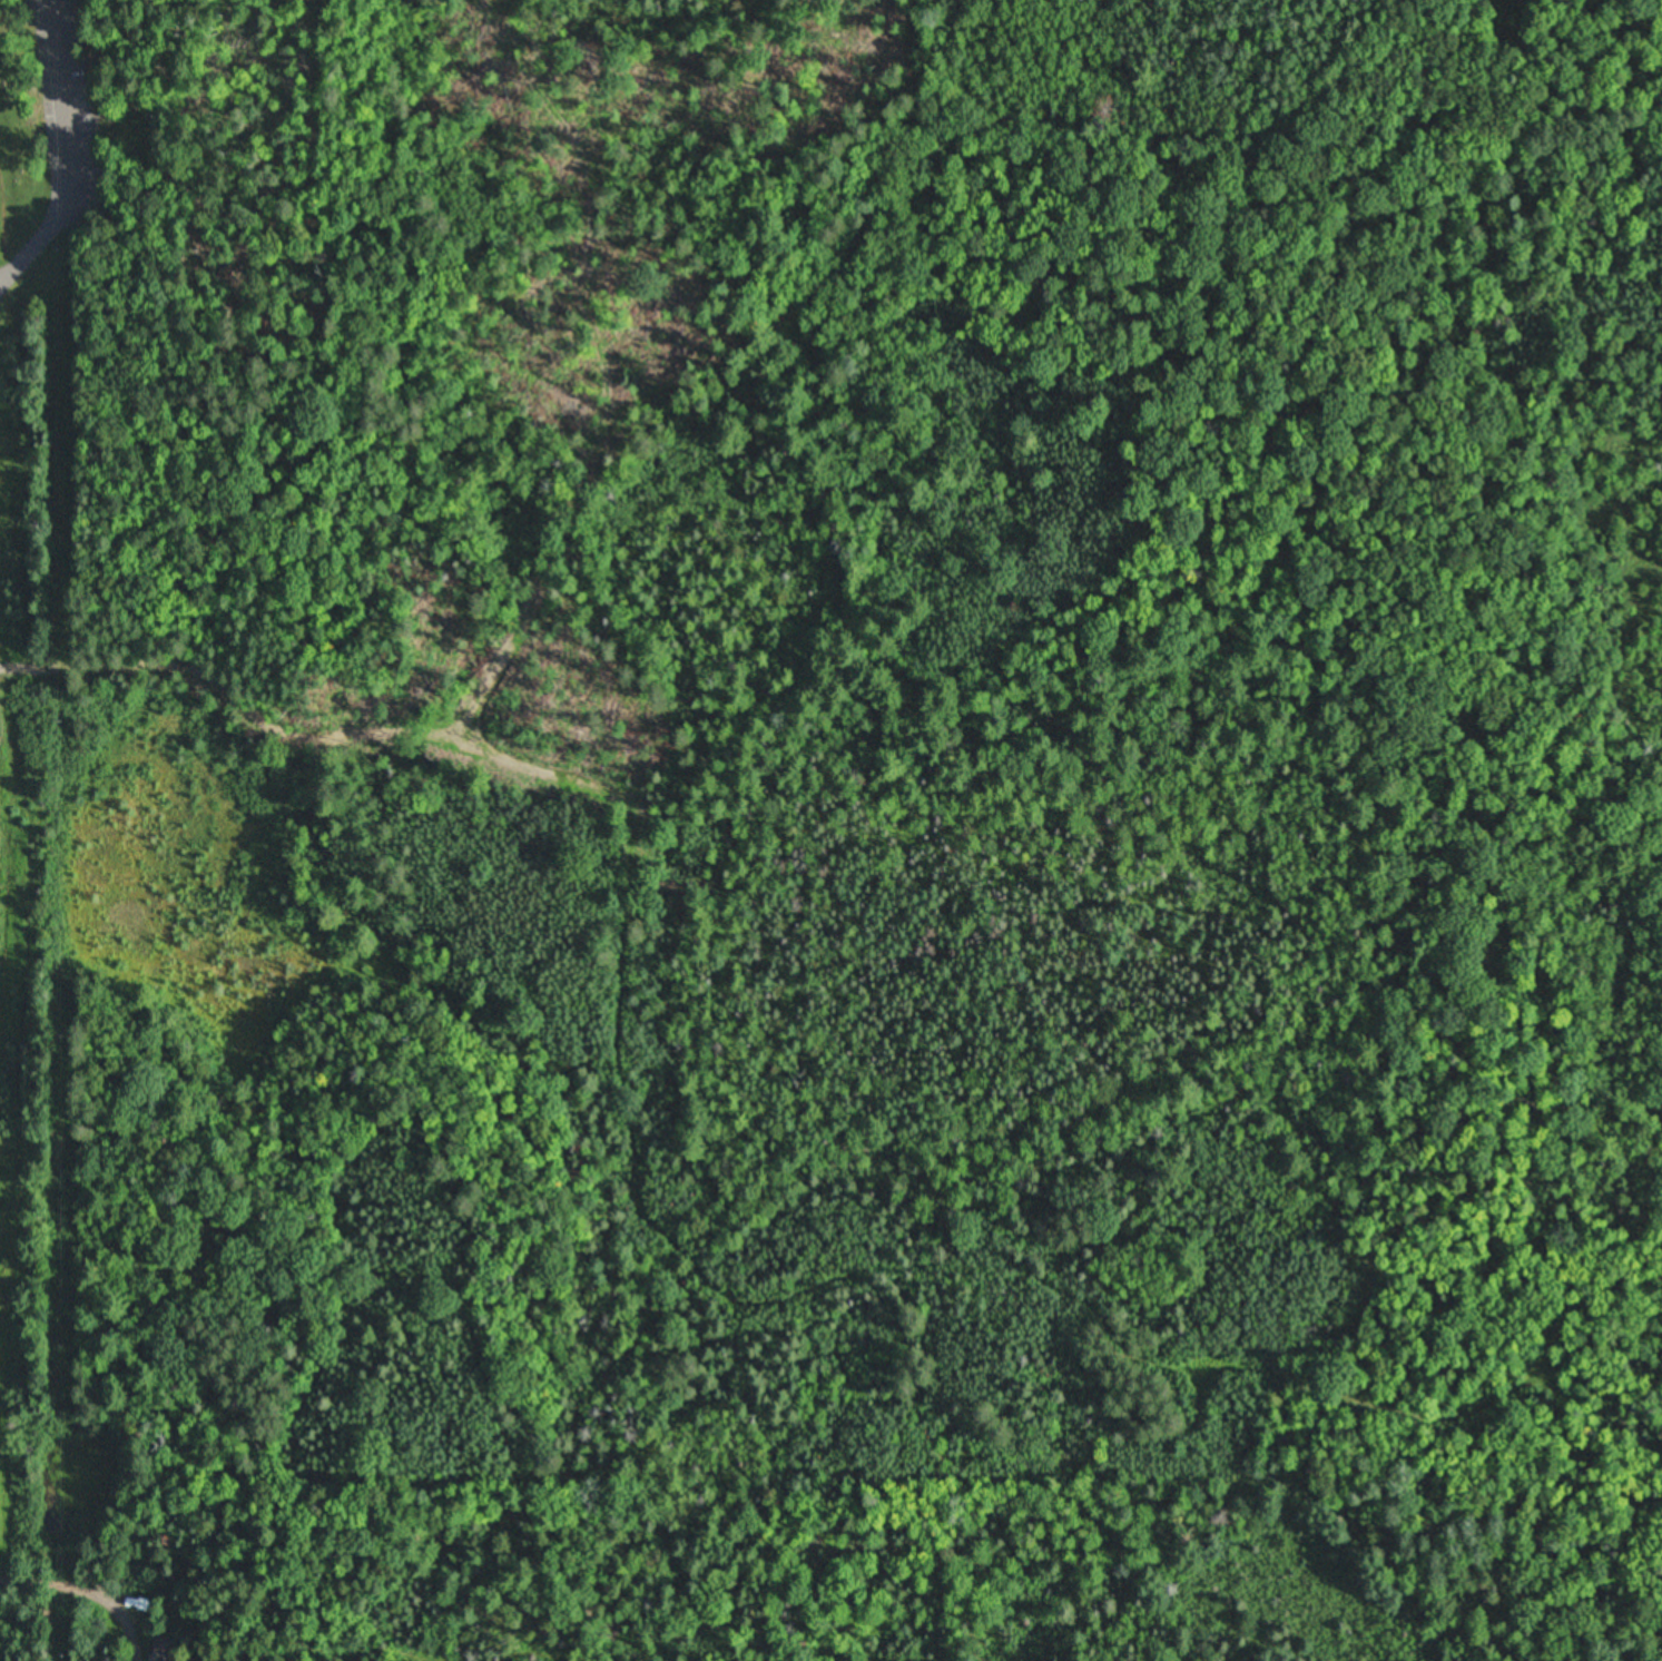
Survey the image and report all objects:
road: (1424, 80)
road: (98, 137)
road: (688, 974)

